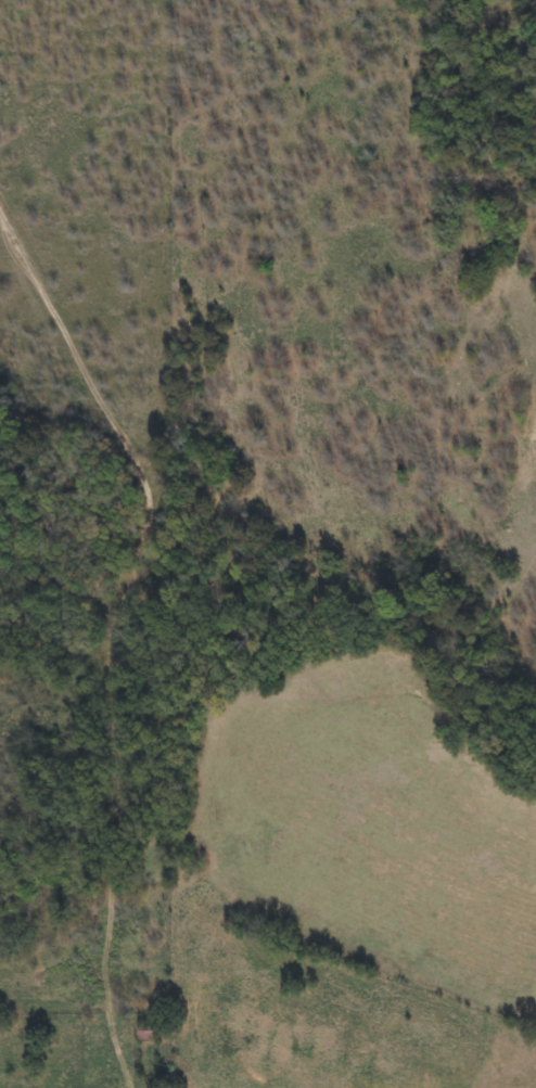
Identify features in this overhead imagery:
road: (73, 932)

